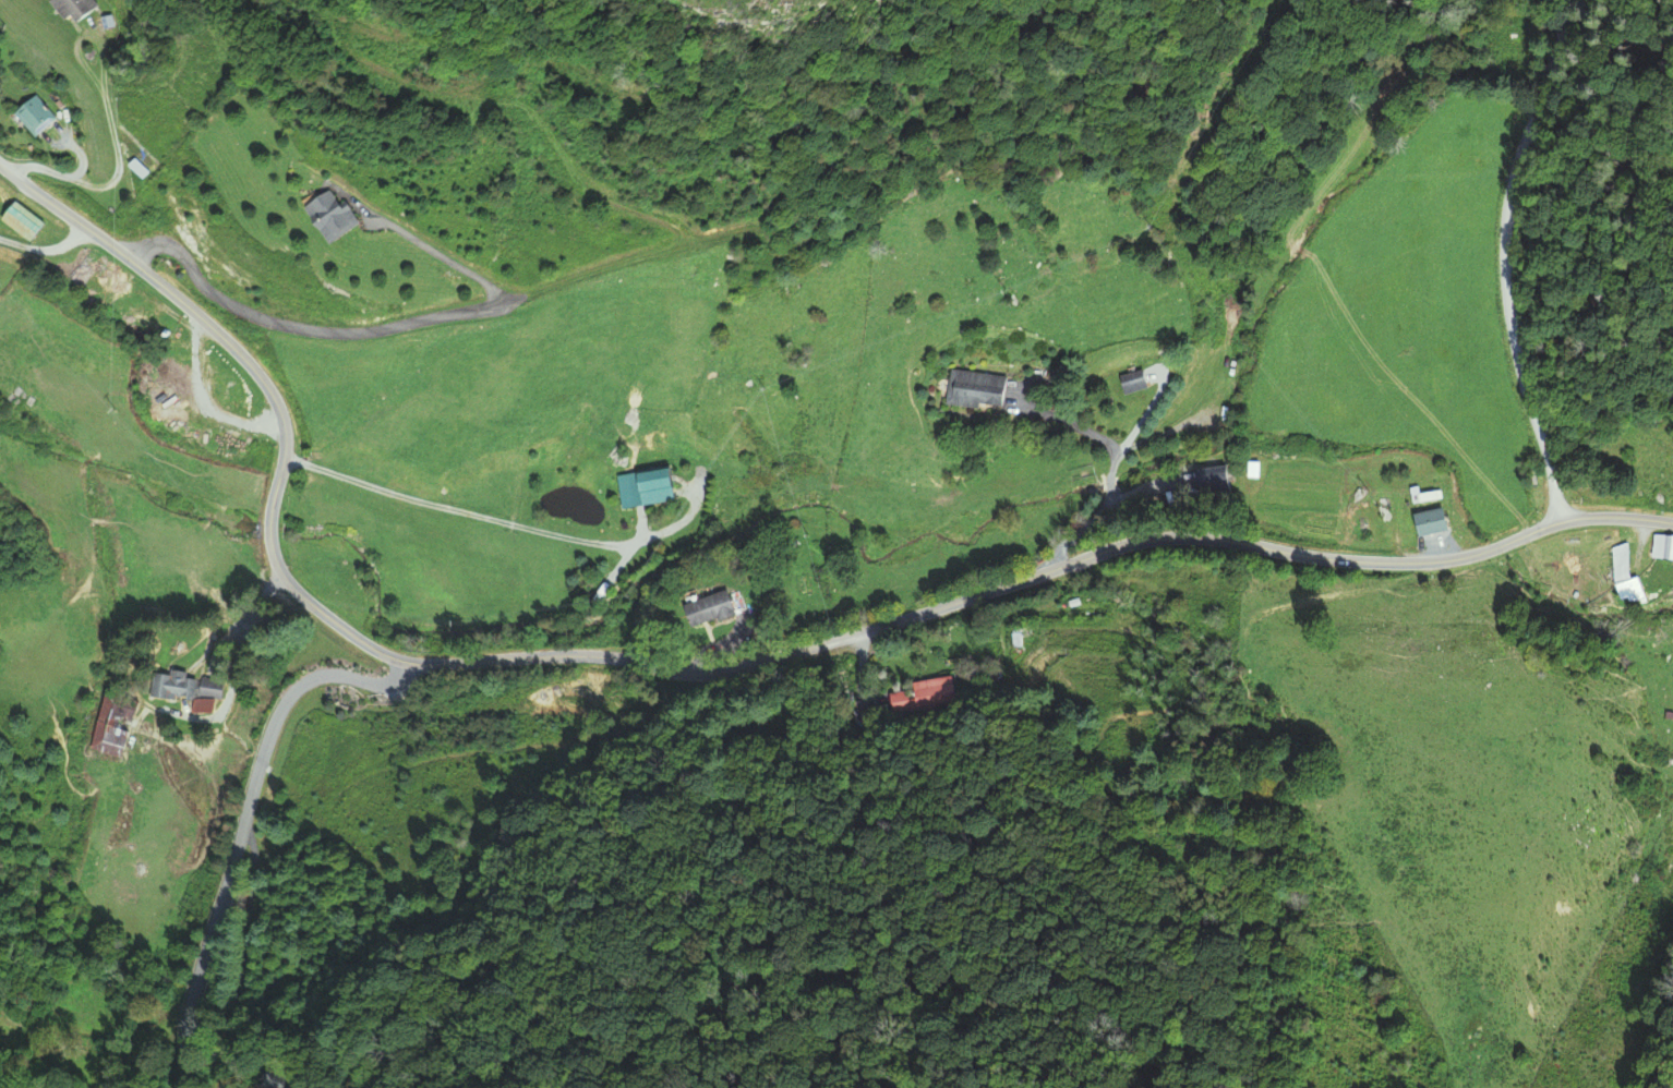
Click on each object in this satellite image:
building: (74, 9)
building: (34, 116)
building: (325, 217)
building: (20, 222)
road: (47, 253)
road: (443, 254)
road: (1504, 257)
road: (298, 329)
building: (1130, 382)
building: (975, 389)
building: (646, 488)
building: (1425, 522)
building: (1662, 548)
building: (1625, 578)
building: (706, 607)
road: (720, 645)
road: (703, 674)
building: (181, 690)
building: (908, 696)
building: (105, 725)
road: (242, 825)

